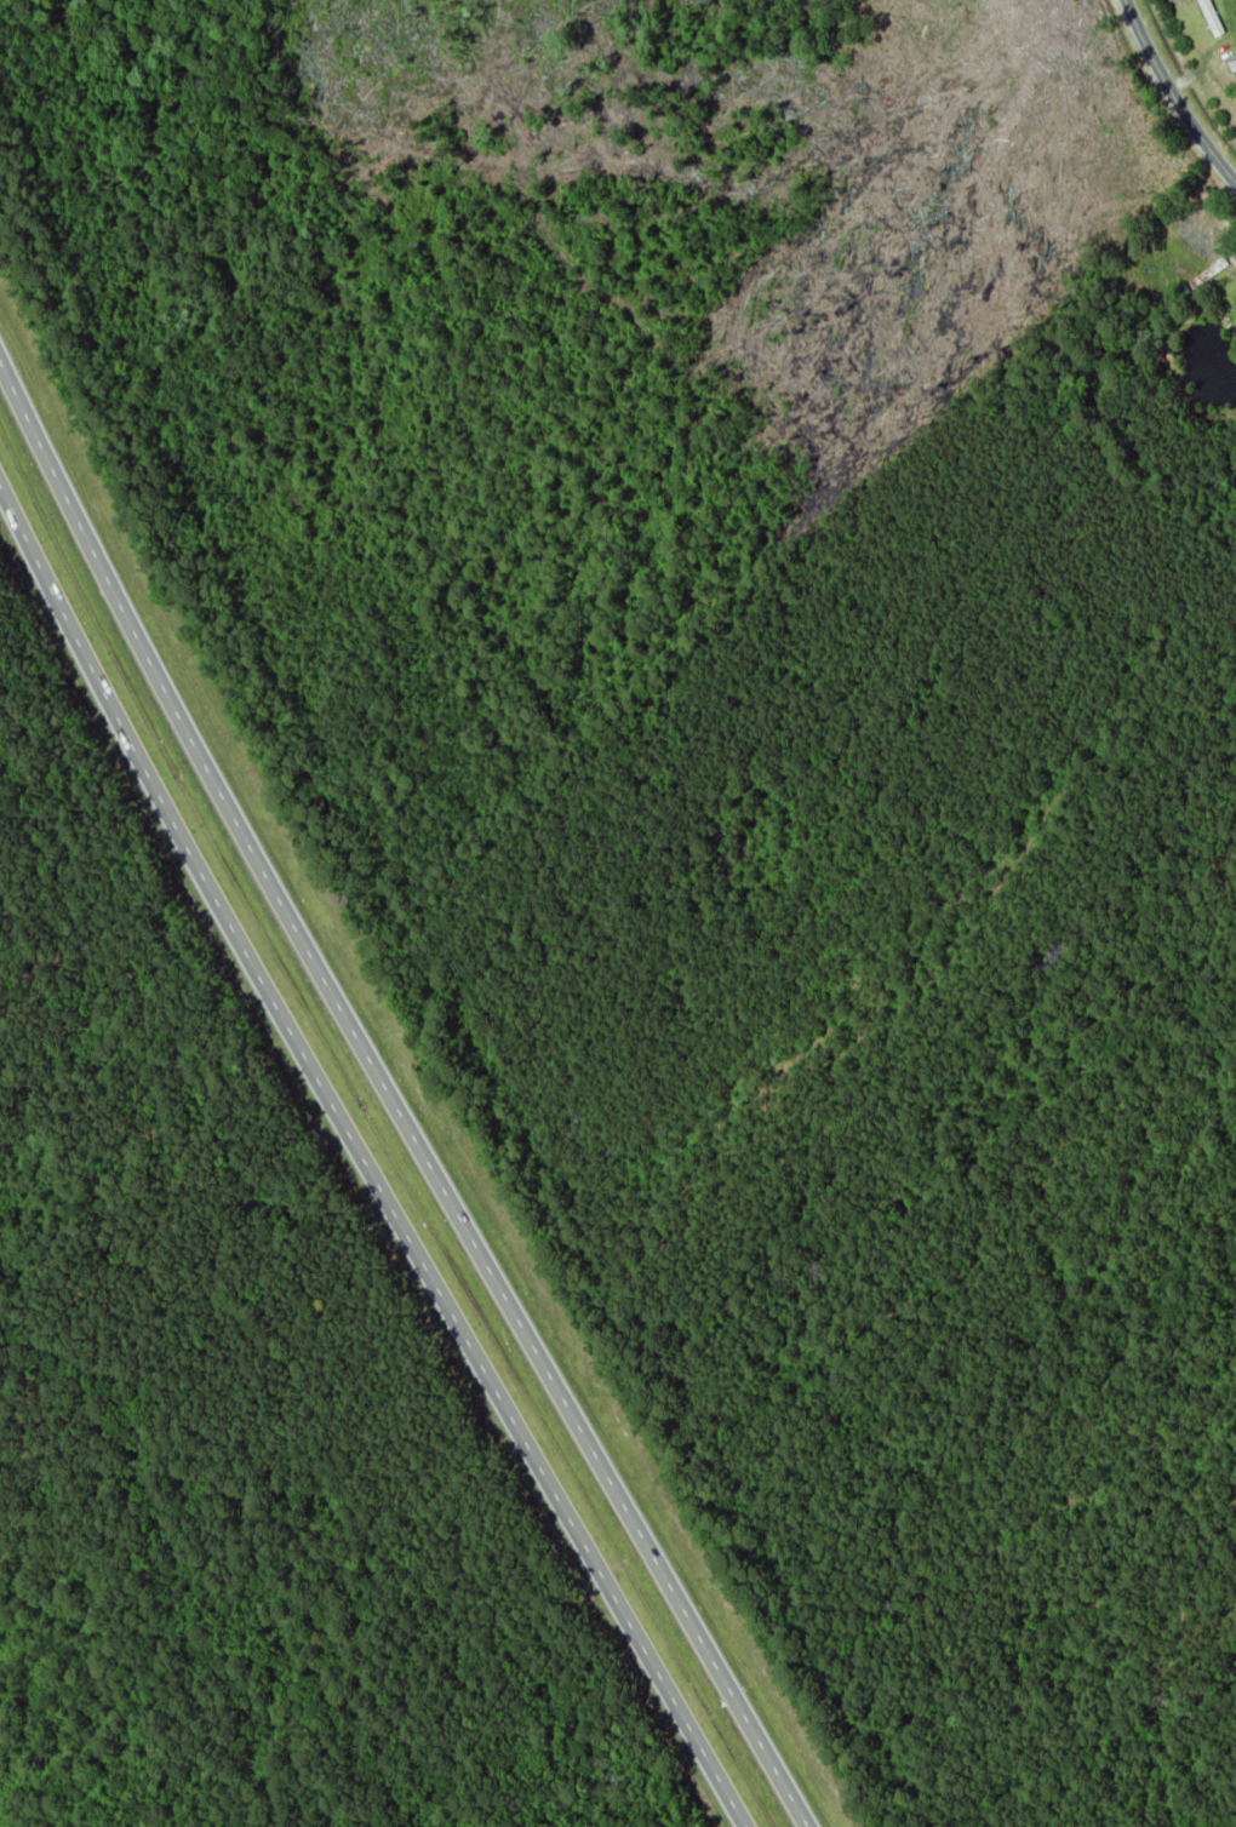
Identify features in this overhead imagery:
building: (1212, 18)
road: (1180, 93)
building: (1195, 241)
road: (390, 1101)
road: (364, 1158)

